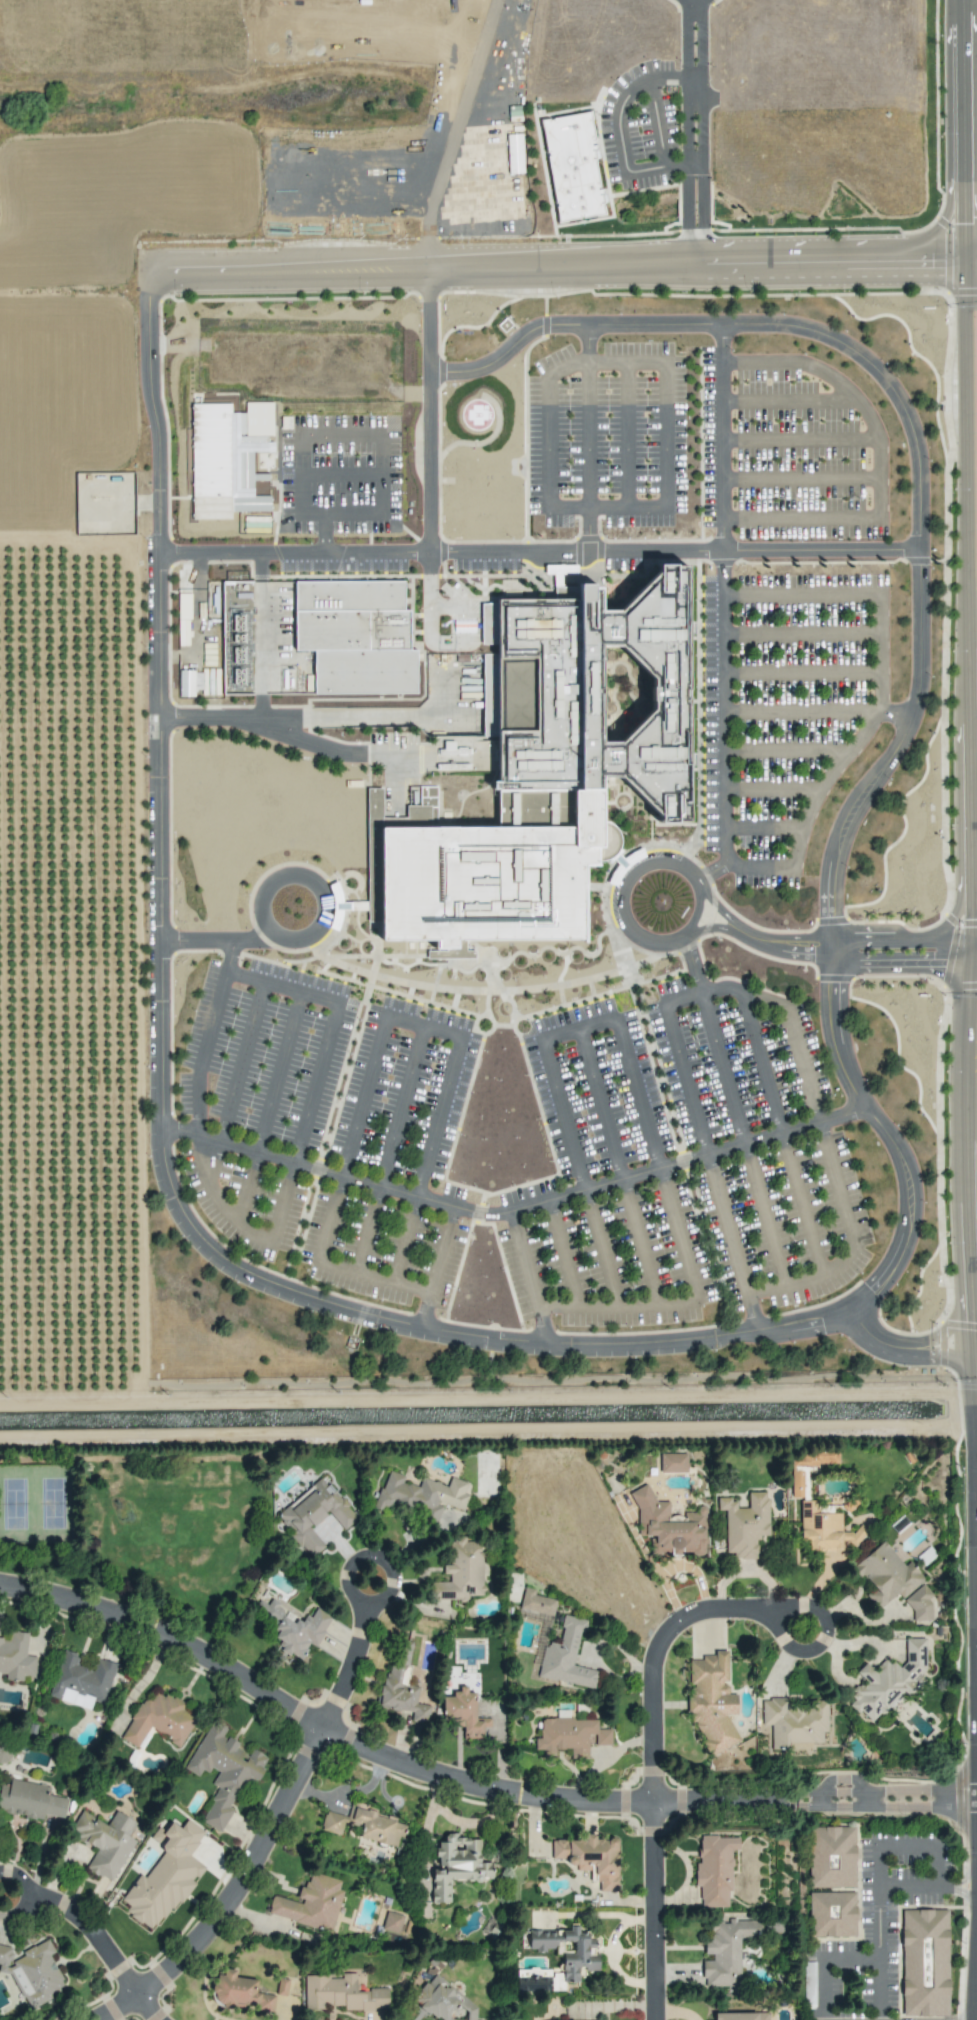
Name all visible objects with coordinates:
road: (618, 130)
road: (454, 131)
road: (687, 131)
road: (702, 131)
building: (573, 167)
road: (562, 263)
road: (761, 363)
helipad: (475, 415)
road: (429, 418)
road: (871, 423)
road: (910, 429)
road: (372, 436)
road: (587, 437)
parking lot: (605, 437)
parking lot: (788, 453)
building: (223, 465)
parking lot: (339, 490)
road: (626, 509)
road: (800, 517)
road: (63, 539)
road: (539, 550)
road: (969, 582)
road: (800, 594)
building: (470, 605)
road: (723, 611)
road: (266, 634)
building: (352, 636)
road: (446, 643)
building: (186, 683)
parking lot: (784, 702)
road: (384, 707)
road: (893, 713)
road: (292, 723)
road: (860, 736)
building: (542, 765)
building: (374, 803)
crop: (69, 824)
road: (168, 830)
road: (652, 862)
road: (760, 864)
road: (268, 887)
road: (171, 939)
road: (216, 939)
road: (194, 951)
road: (835, 951)
road: (229, 952)
road: (374, 956)
road: (455, 1010)
road: (793, 1019)
road: (423, 1025)
road: (332, 1027)
road: (578, 1027)
road: (672, 1034)
road: (169, 1036)
road: (207, 1036)
road: (242, 1062)
road: (761, 1062)
road: (722, 1068)
road: (278, 1072)
road: (601, 1104)
road: (402, 1107)
parking lot: (326, 1128)
road: (170, 1131)
road: (318, 1152)
parking lot: (680, 1165)
road: (317, 1168)
road: (246, 1187)
road: (803, 1203)
road: (514, 1210)
road: (474, 1213)
road: (765, 1218)
road: (368, 1231)
road: (248, 1232)
road: (408, 1241)
road: (732, 1243)
road: (640, 1244)
road: (853, 1244)
road: (290, 1250)
road: (443, 1250)
road: (601, 1250)
road: (564, 1255)
road: (286, 1263)
road: (257, 1267)
road: (236, 1268)
road: (350, 1271)
road: (456, 1272)
road: (528, 1277)
road: (685, 1304)
road: (423, 1319)
road: (438, 1319)
road: (440, 1325)
road: (907, 1343)
building: (673, 1462)
building: (807, 1469)
building: (420, 1495)
building: (314, 1515)
building: (670, 1525)
building: (744, 1525)
building: (824, 1529)
building: (461, 1571)
building: (893, 1580)
building: (536, 1603)
building: (293, 1628)
road: (646, 1649)
building: (566, 1656)
building: (16, 1657)
road: (337, 1663)
building: (81, 1681)
building: (888, 1681)
building: (402, 1684)
building: (711, 1701)
building: (464, 1713)
building: (158, 1720)
building: (794, 1724)
building: (570, 1736)
building: (223, 1771)
road: (467, 1791)
building: (30, 1800)
building: (365, 1824)
building: (104, 1841)
road: (423, 1843)
road: (905, 1846)
building: (831, 1857)
building: (591, 1858)
building: (457, 1865)
building: (714, 1870)
building: (165, 1875)
road: (957, 1877)
road: (957, 1887)
road: (225, 1897)
building: (311, 1903)
road: (876, 1912)
road: (642, 1913)
building: (832, 1914)
building: (392, 1922)
road: (76, 1931)
building: (725, 1950)
building: (578, 1952)
road: (825, 1958)
building: (924, 1962)
building: (34, 1973)
building: (240, 1992)
building: (344, 1995)
building: (444, 2001)
road: (135, 2010)
building: (741, 2016)

